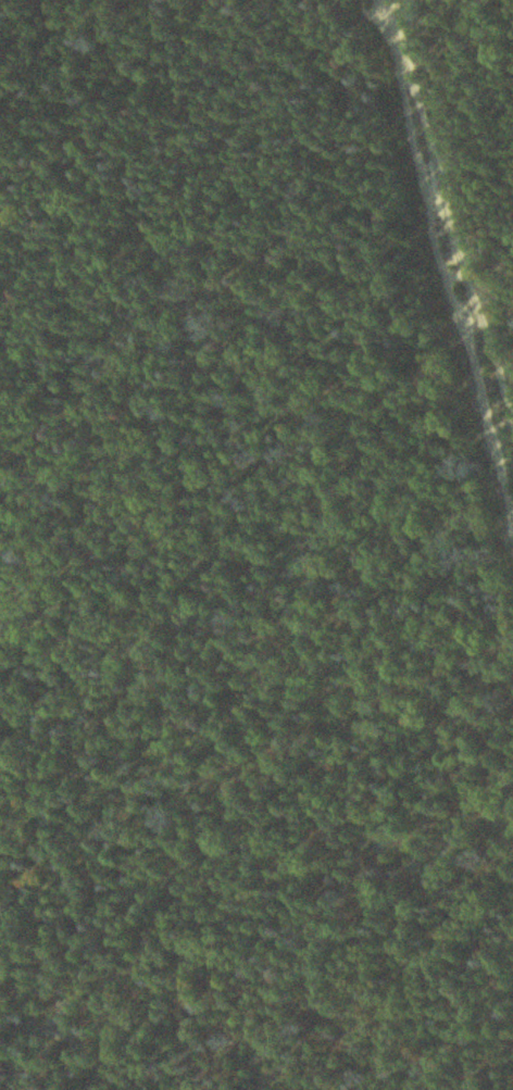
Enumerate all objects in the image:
road: (449, 235)

